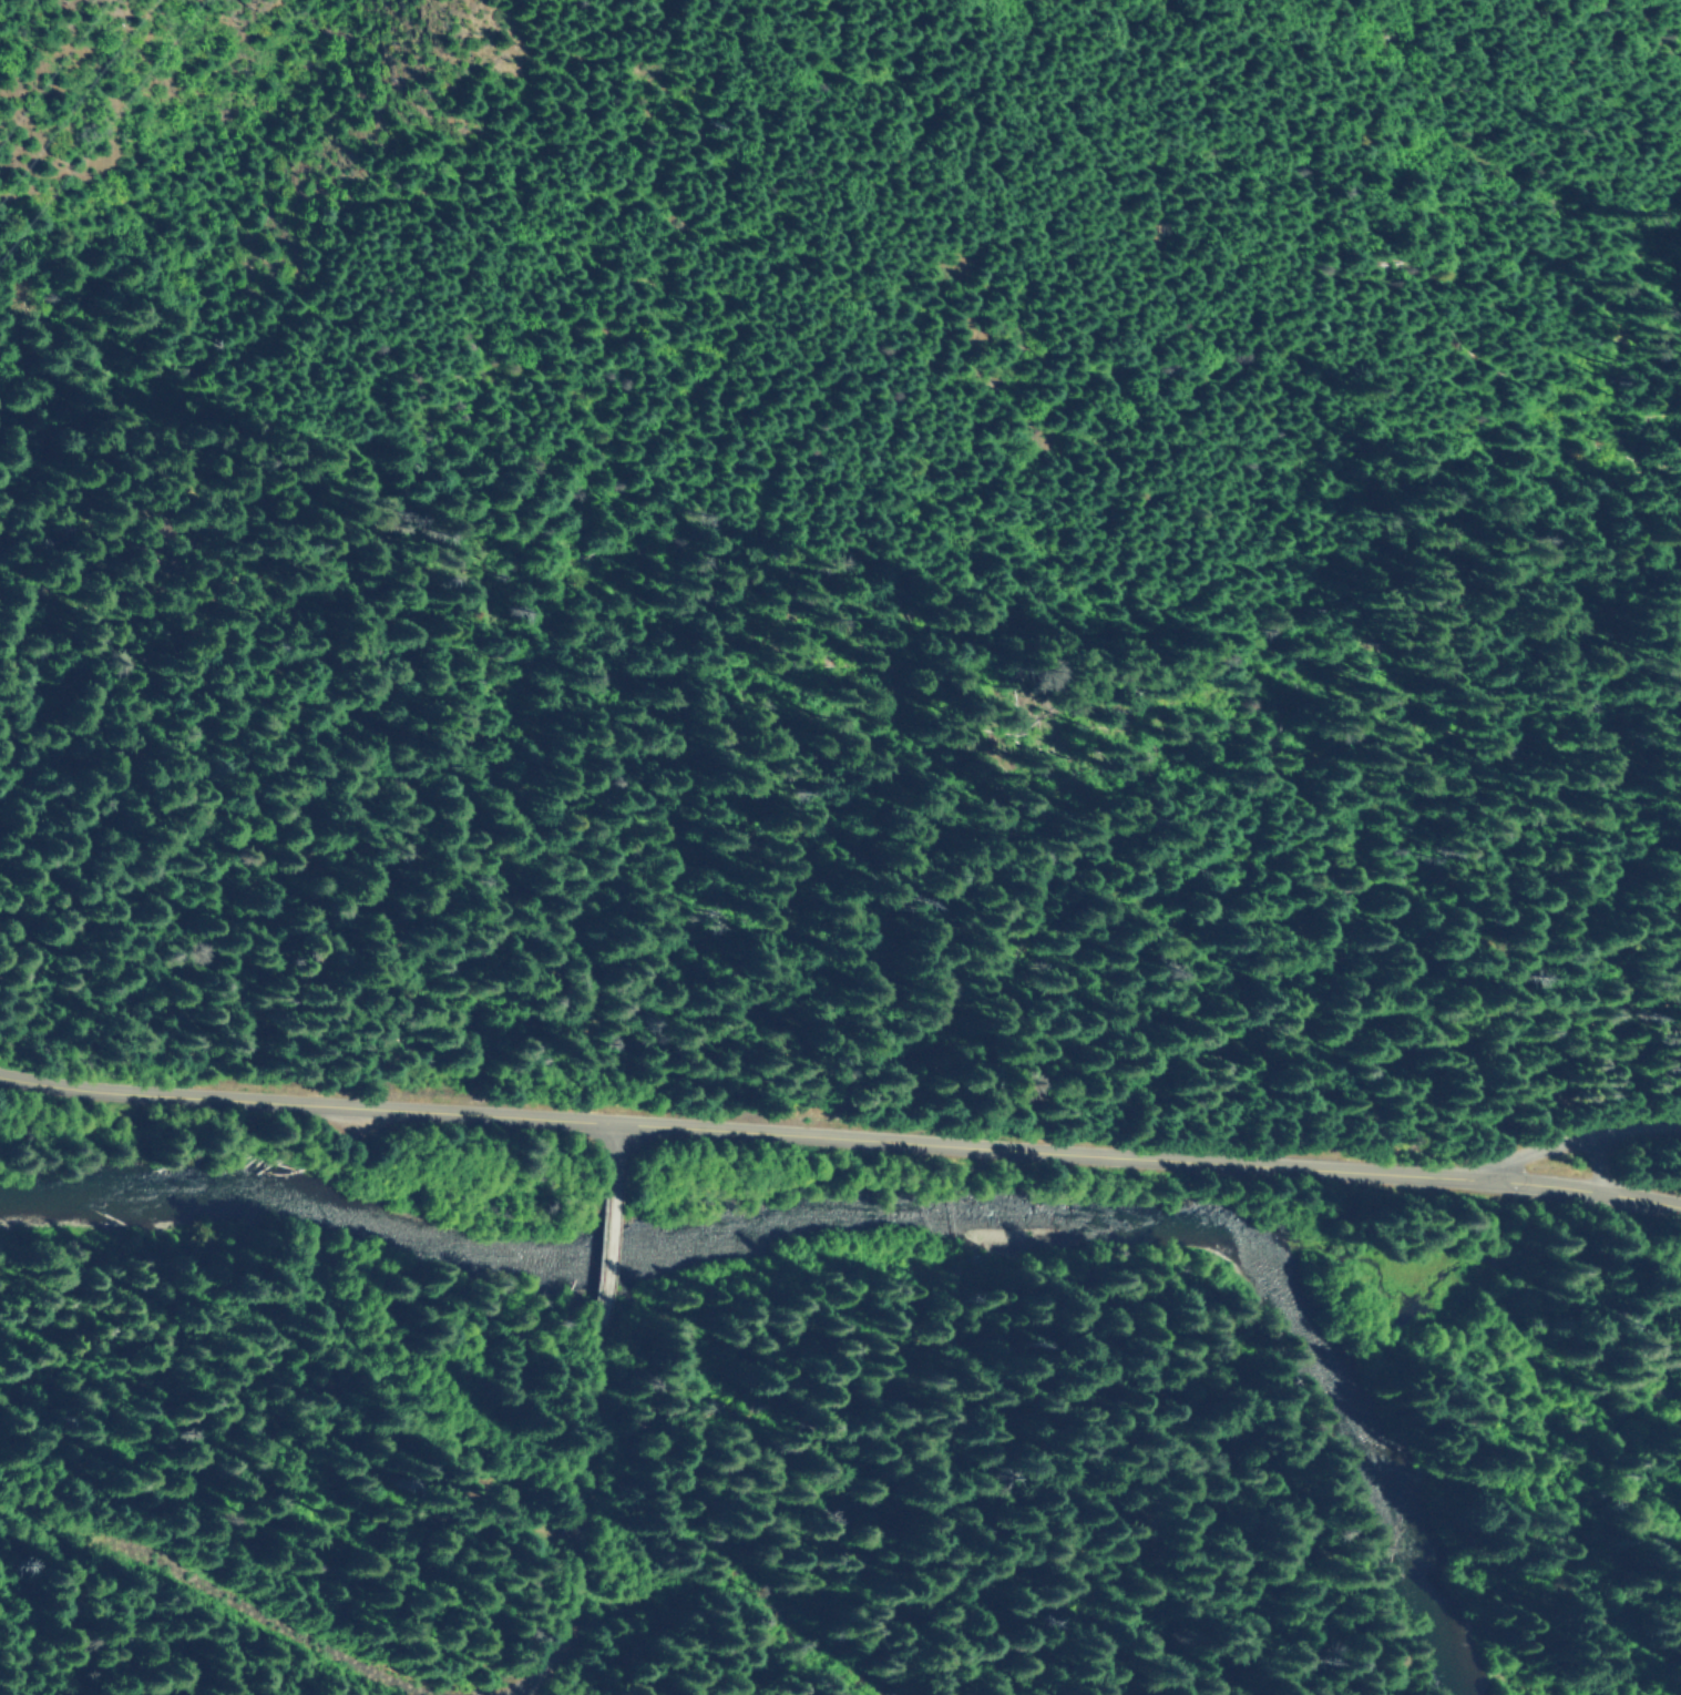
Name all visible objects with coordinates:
road: (840, 1133)
road: (1579, 1138)
road: (618, 1157)
road: (1600, 1162)
river: (896, 1235)
road: (611, 1269)
road: (599, 1511)
road: (275, 1601)
road: (544, 1681)

